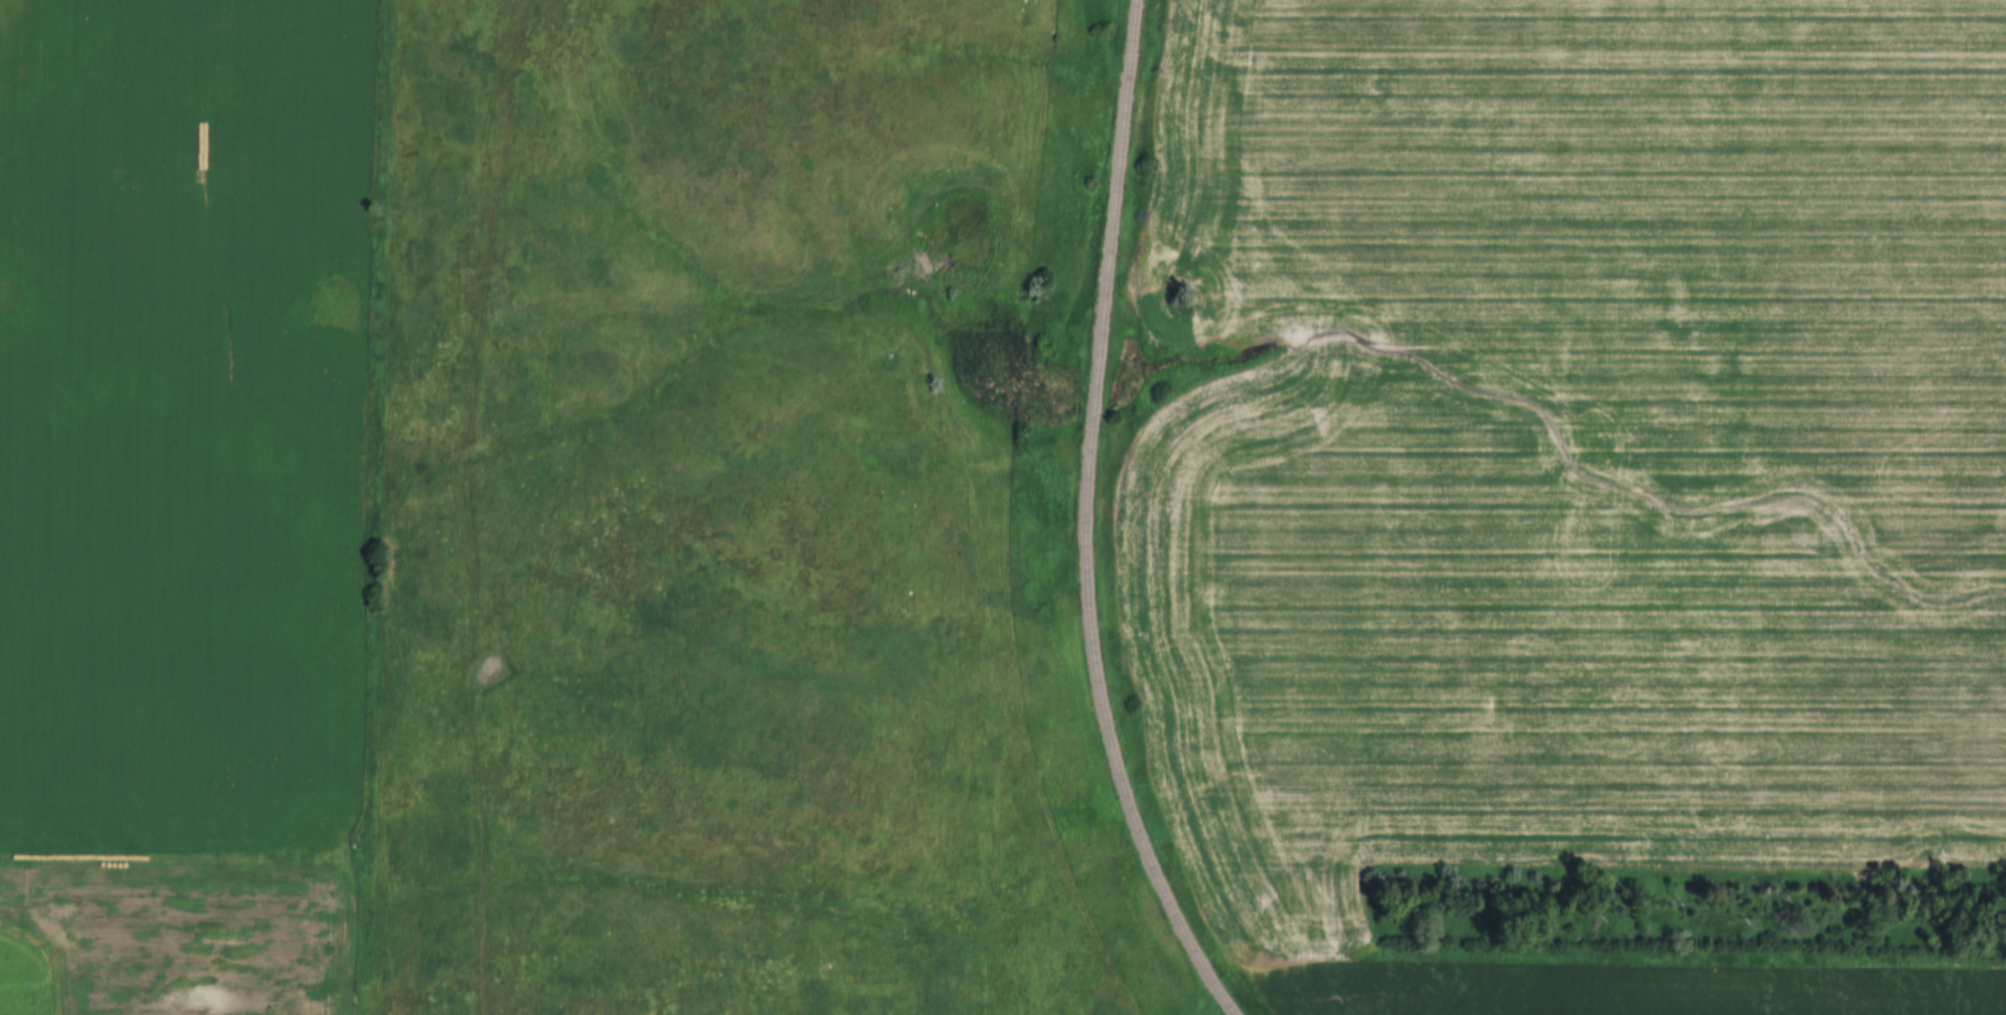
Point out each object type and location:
road: (369, 507)
railway: (1090, 521)

